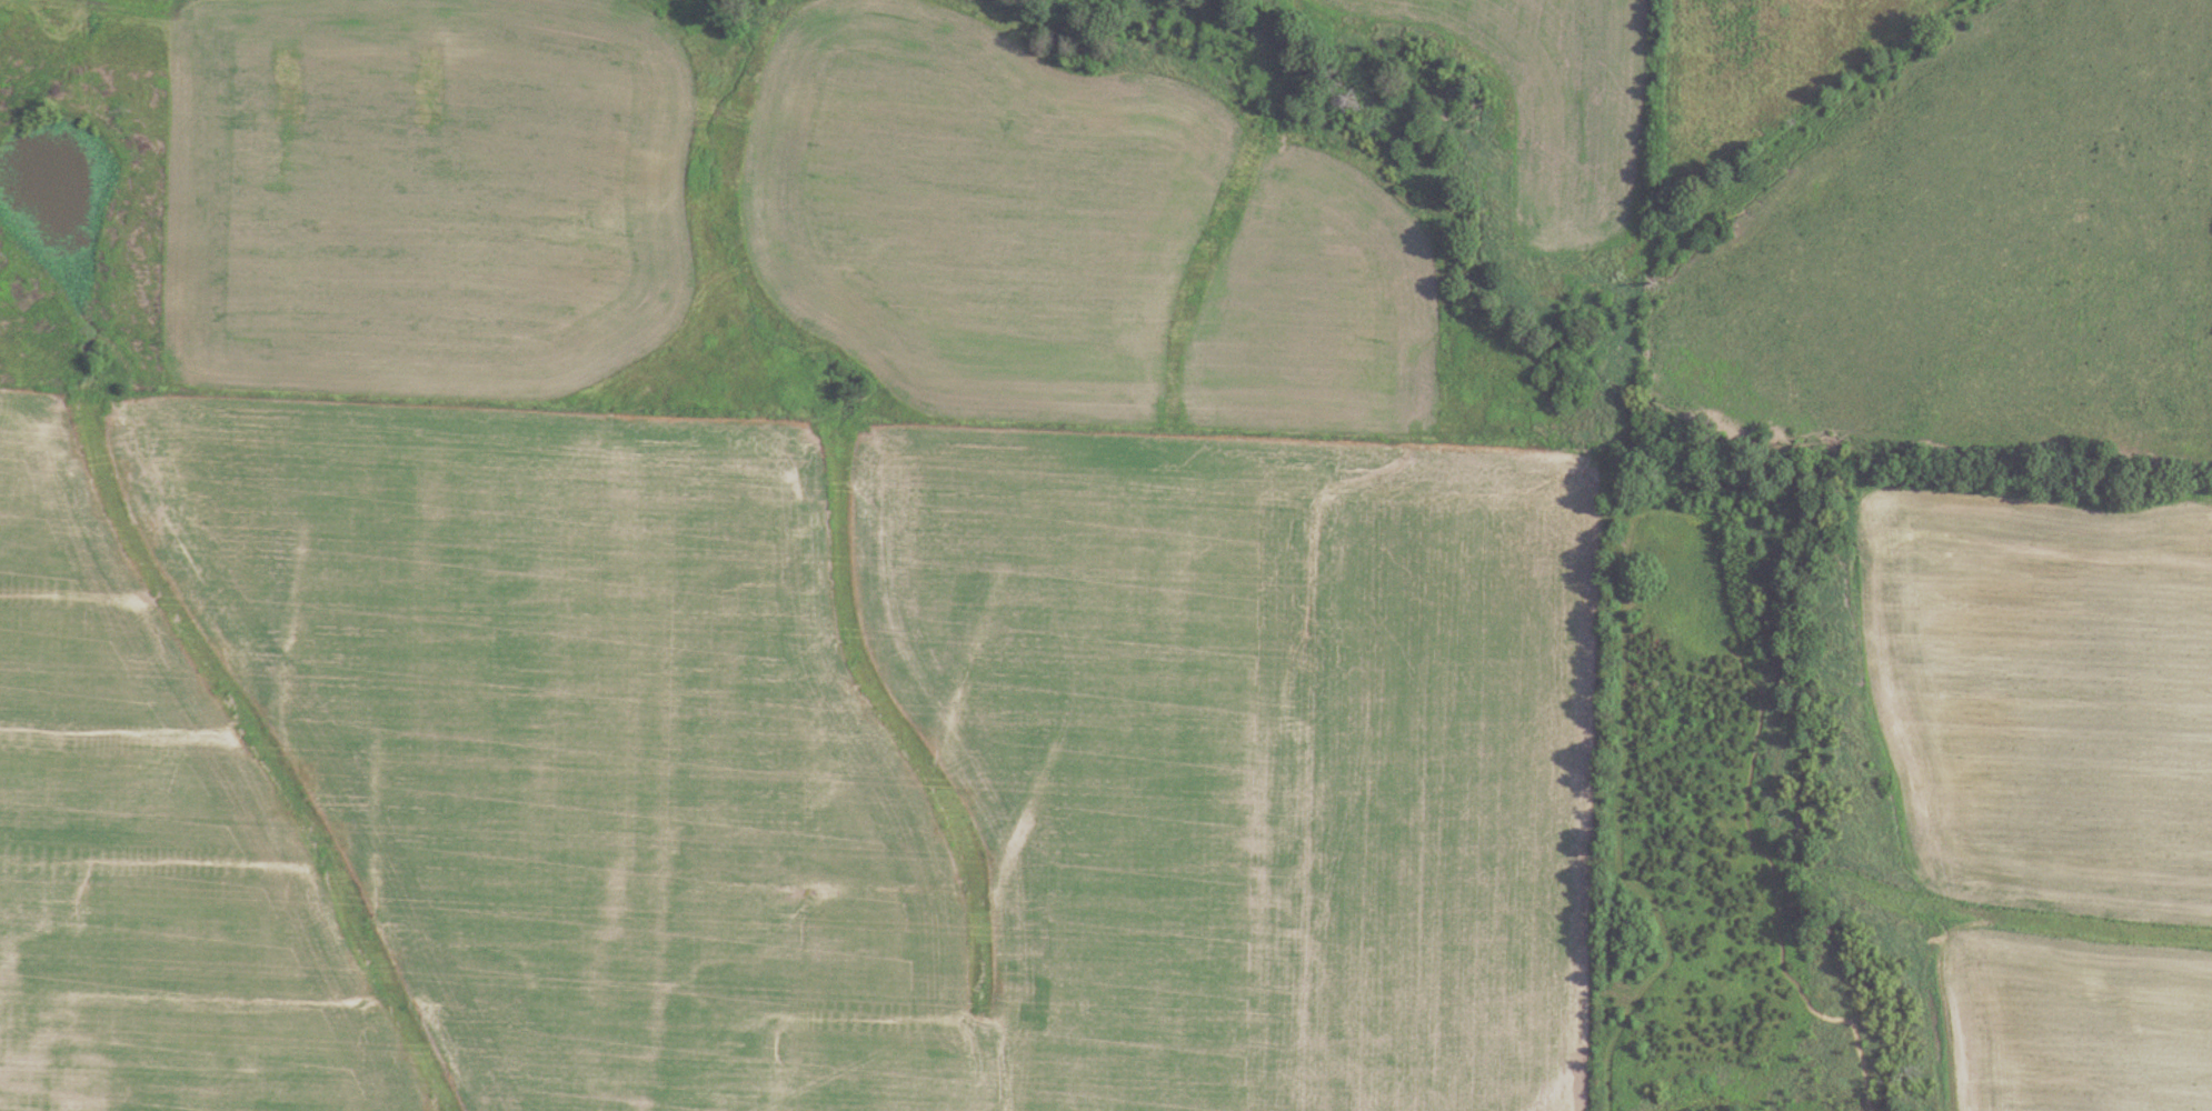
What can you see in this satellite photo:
road: (647, 773)

